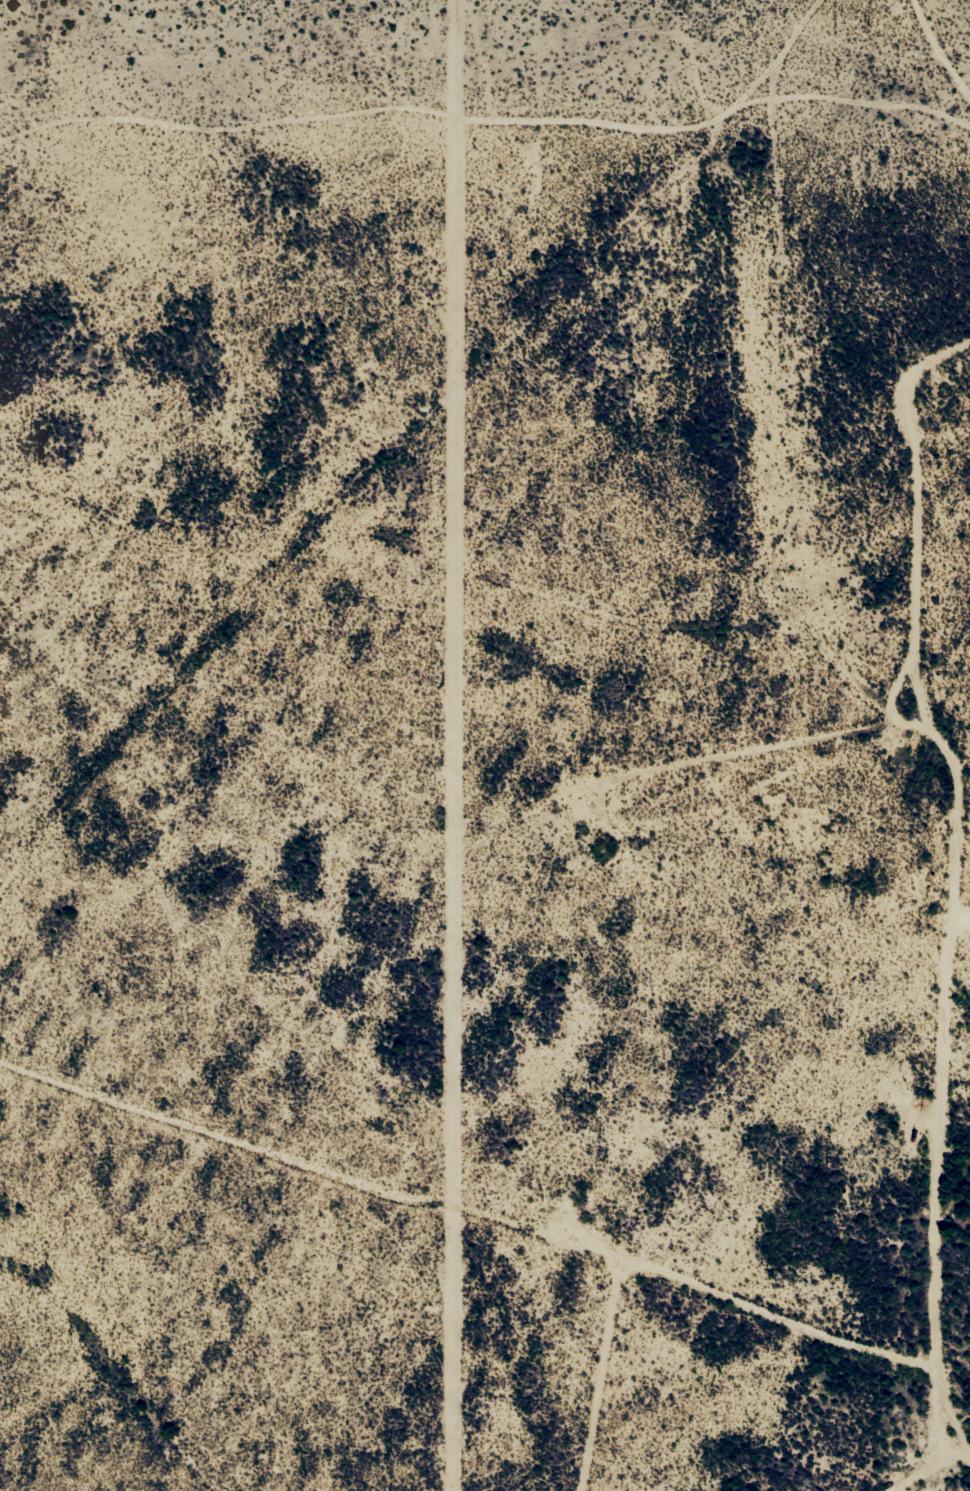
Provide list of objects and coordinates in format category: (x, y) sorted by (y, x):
road: (909, 86)
road: (403, 415)
road: (905, 879)

